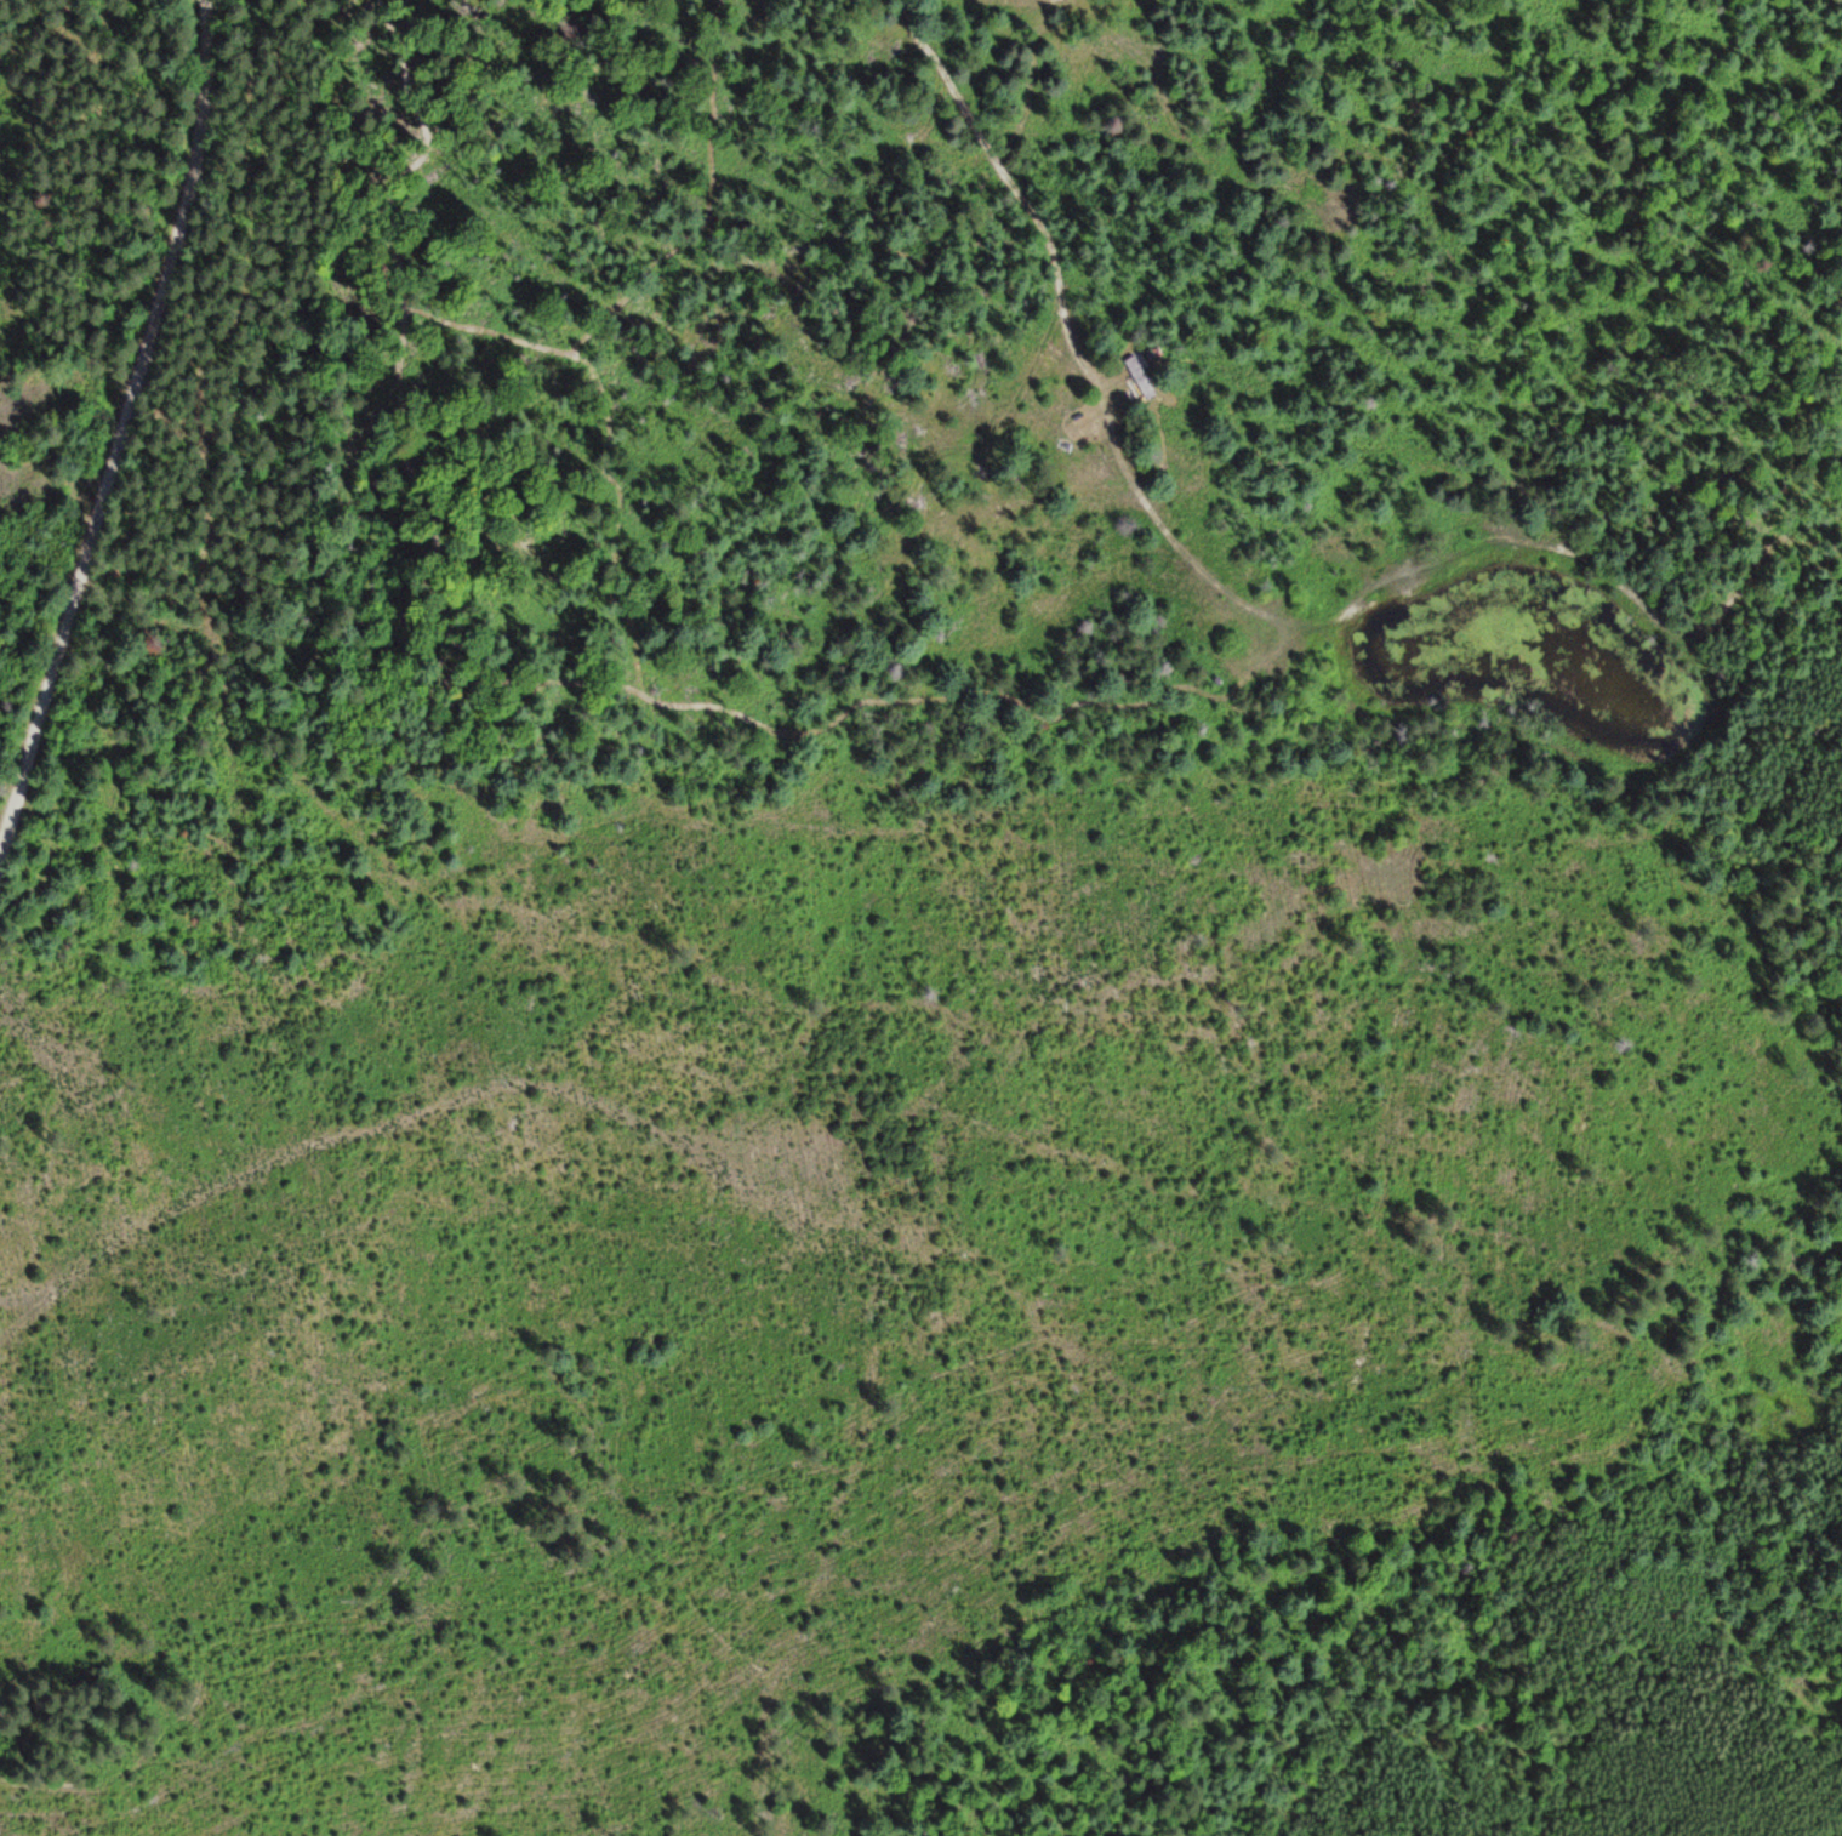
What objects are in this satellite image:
road: (1033, 81)
building: (1140, 375)
road: (120, 437)
road: (1239, 598)
road: (924, 779)
road: (1795, 1201)
road: (1506, 1233)

